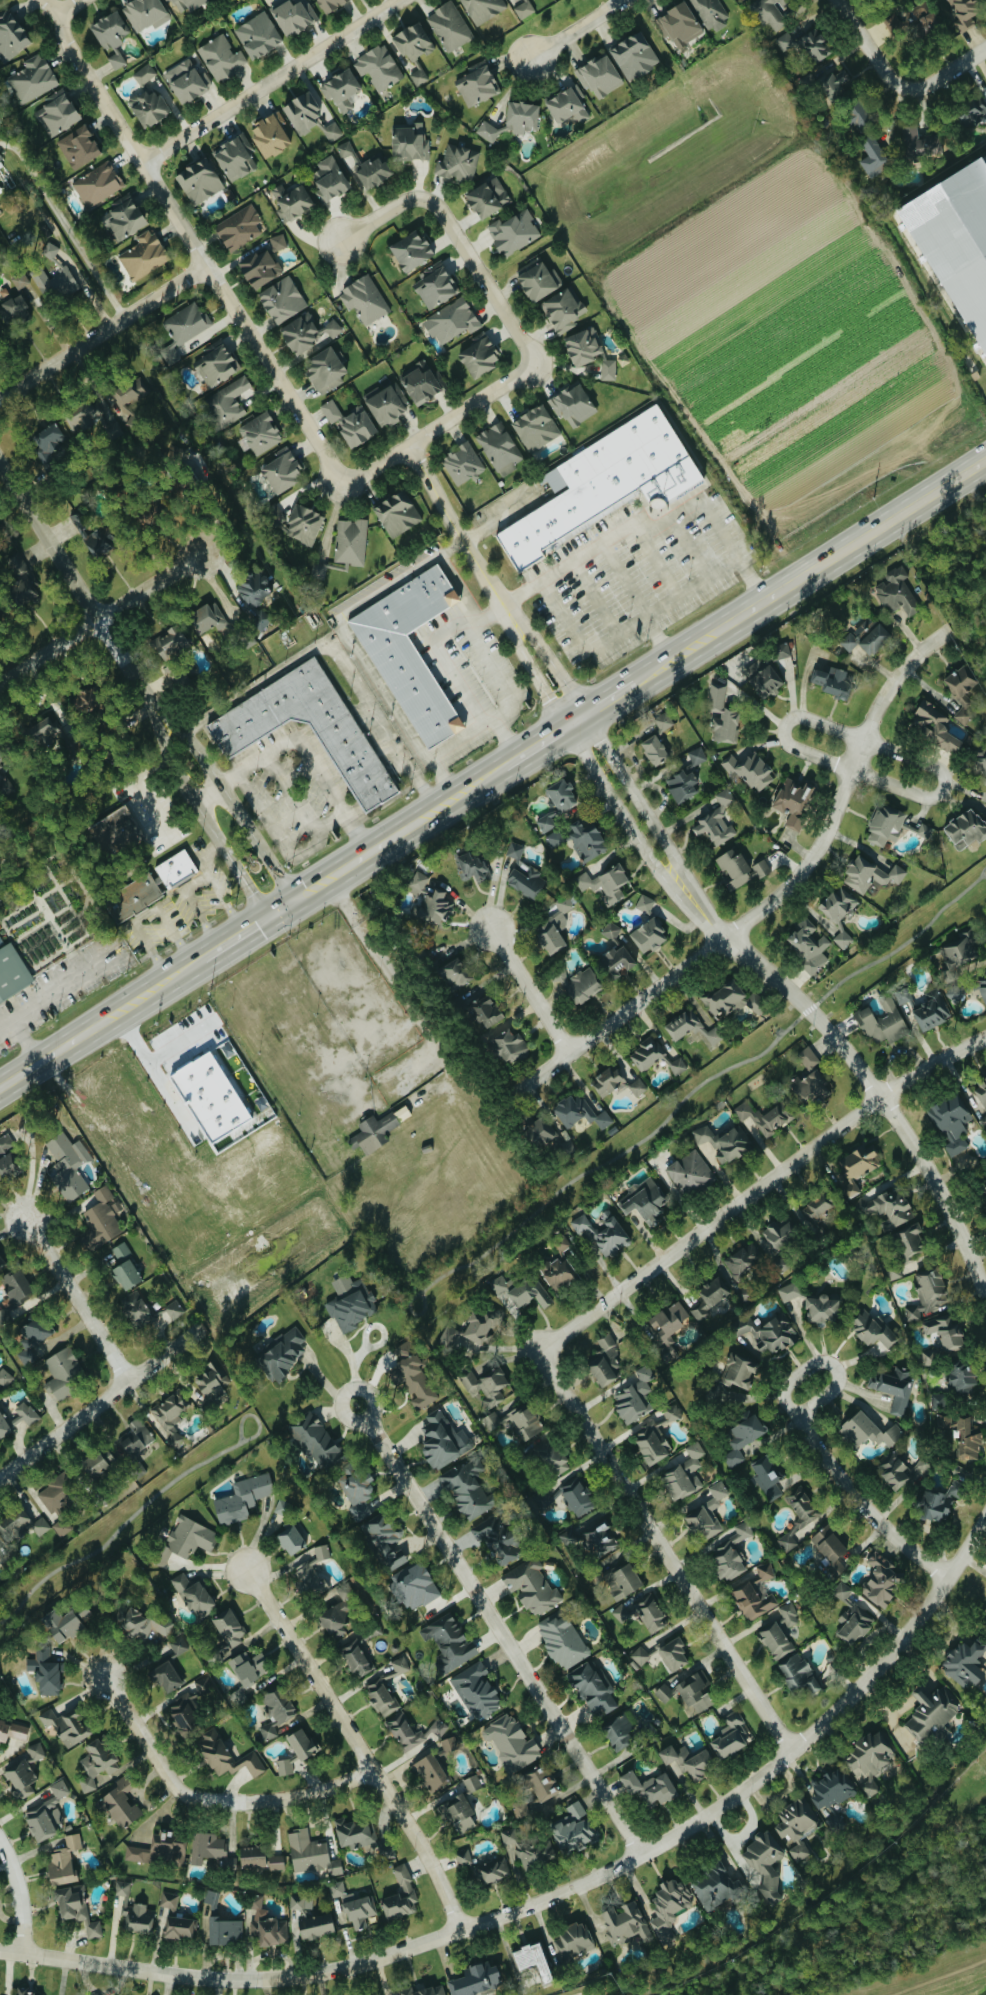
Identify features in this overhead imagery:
building: (168, 0)
building: (515, 1)
building: (1, 3)
building: (189, 4)
building: (330, 4)
road: (49, 6)
road: (68, 6)
building: (483, 9)
building: (525, 9)
building: (144, 13)
building: (712, 13)
building: (770, 13)
building: (963, 13)
building: (293, 15)
building: (892, 23)
building: (678, 24)
building: (450, 26)
building: (109, 29)
road: (575, 29)
building: (258, 35)
building: (11, 37)
building: (782, 43)
building: (814, 45)
road: (865, 46)
building: (413, 50)
building: (633, 55)
building: (222, 57)
building: (379, 67)
building: (145, 74)
building: (599, 76)
road: (945, 77)
building: (33, 78)
building: (186, 80)
road: (269, 81)
building: (831, 81)
building: (477, 85)
building: (341, 89)
building: (567, 104)
building: (148, 107)
building: (972, 111)
building: (58, 113)
building: (302, 113)
building: (856, 114)
building: (522, 116)
building: (332, 131)
building: (488, 131)
building: (270, 134)
building: (918, 141)
building: (410, 143)
building: (78, 147)
building: (346, 149)
building: (872, 156)
building: (235, 158)
building: (458, 163)
building: (373, 172)
building: (329, 178)
building: (199, 181)
building: (98, 184)
building: (487, 197)
building: (293, 203)
road: (379, 216)
building: (121, 220)
road: (65, 225)
building: (239, 228)
building: (514, 233)
building: (278, 242)
building: (955, 244)
road: (194, 247)
building: (411, 251)
building: (143, 256)
building: (259, 269)
road: (482, 277)
building: (56, 278)
building: (20, 280)
building: (538, 281)
building: (436, 285)
crop: (757, 293)
building: (365, 299)
building: (281, 300)
building: (15, 309)
building: (563, 310)
building: (452, 321)
building: (184, 329)
road: (102, 330)
building: (305, 333)
building: (582, 346)
building: (479, 356)
building: (216, 365)
building: (325, 370)
building: (608, 370)
building: (420, 384)
building: (131, 391)
building: (226, 403)
building: (574, 405)
building: (384, 407)
building: (85, 414)
building: (350, 423)
road: (437, 427)
building: (535, 428)
building: (114, 430)
building: (260, 434)
building: (47, 444)
building: (500, 448)
building: (463, 463)
building: (281, 471)
building: (601, 484)
building: (397, 513)
road: (500, 516)
building: (298, 522)
road: (454, 526)
building: (91, 534)
building: (350, 542)
road: (599, 546)
road: (689, 548)
road: (731, 552)
road: (657, 561)
road: (809, 574)
building: (19, 579)
building: (897, 592)
road: (84, 596)
road: (596, 597)
building: (254, 599)
road: (636, 602)
road: (99, 617)
building: (206, 618)
road: (625, 627)
road: (340, 628)
building: (866, 637)
building: (168, 643)
building: (780, 651)
building: (410, 653)
road: (462, 670)
road: (896, 677)
building: (763, 679)
road: (350, 681)
building: (831, 681)
building: (962, 692)
building: (717, 697)
road: (608, 699)
building: (81, 700)
road: (574, 720)
building: (664, 722)
road: (783, 726)
building: (726, 727)
building: (934, 727)
building: (43, 734)
road: (460, 739)
building: (343, 740)
road: (536, 744)
road: (603, 744)
building: (654, 750)
road: (857, 755)
road: (584, 756)
road: (193, 757)
building: (981, 762)
road: (249, 763)
building: (749, 770)
road: (229, 778)
road: (439, 780)
road: (479, 781)
road: (944, 787)
road: (205, 791)
building: (793, 801)
building: (556, 803)
road: (442, 804)
building: (717, 821)
building: (885, 824)
road: (324, 826)
road: (209, 827)
building: (964, 827)
building: (116, 831)
building: (926, 831)
building: (554, 837)
building: (585, 839)
road: (256, 842)
building: (515, 850)
road: (362, 854)
road: (204, 856)
building: (472, 865)
building: (734, 868)
building: (761, 868)
building: (175, 869)
building: (869, 874)
building: (525, 879)
building: (605, 882)
building: (132, 897)
building: (429, 899)
traffic signals: (293, 900)
road: (225, 903)
building: (645, 903)
building: (837, 903)
road: (193, 906)
traffic signals: (267, 917)
building: (554, 926)
building: (610, 930)
road: (244, 931)
building: (648, 934)
building: (843, 938)
building: (807, 944)
building: (959, 947)
road: (698, 957)
building: (616, 961)
building: (12, 972)
building: (454, 973)
building: (577, 983)
road: (401, 984)
road: (58, 987)
building: (981, 988)
road: (529, 989)
building: (955, 992)
building: (903, 995)
building: (732, 998)
building: (482, 1009)
building: (931, 1013)
building: (882, 1021)
road: (97, 1024)
building: (692, 1027)
road: (25, 1040)
building: (508, 1045)
building: (646, 1053)
road: (150, 1057)
building: (808, 1057)
building: (677, 1066)
road: (864, 1074)
building: (610, 1081)
building: (812, 1086)
building: (638, 1087)
building: (981, 1091)
building: (579, 1112)
building: (762, 1117)
building: (951, 1121)
building: (538, 1131)
building: (373, 1132)
building: (722, 1143)
building: (7, 1157)
building: (68, 1165)
building: (856, 1169)
building: (689, 1172)
building: (985, 1186)
road: (758, 1187)
building: (645, 1201)
building: (815, 1207)
building: (886, 1207)
building: (104, 1216)
building: (786, 1229)
building: (602, 1234)
building: (562, 1243)
building: (910, 1243)
building: (741, 1261)
building: (1, 1263)
building: (125, 1266)
building: (893, 1271)
building: (559, 1274)
building: (521, 1291)
building: (789, 1292)
building: (927, 1294)
building: (709, 1296)
road: (76, 1300)
building: (351, 1303)
building: (821, 1308)
building: (137, 1309)
building: (173, 1311)
road: (371, 1326)
building: (666, 1329)
building: (872, 1330)
building: (944, 1331)
building: (469, 1333)
building: (768, 1334)
building: (32, 1339)
building: (282, 1353)
building: (605, 1361)
road: (354, 1364)
building: (740, 1369)
building: (64, 1372)
building: (4, 1378)
building: (962, 1378)
building: (209, 1381)
building: (413, 1382)
building: (487, 1385)
building: (894, 1387)
building: (633, 1396)
building: (738, 1397)
building: (938, 1397)
road: (99, 1402)
building: (672, 1413)
building: (171, 1415)
road: (253, 1415)
building: (17, 1417)
building: (492, 1420)
building: (525, 1422)
building: (866, 1431)
building: (740, 1438)
road: (812, 1439)
building: (968, 1439)
building: (135, 1441)
building: (315, 1441)
building: (442, 1441)
building: (652, 1444)
building: (550, 1457)
building: (95, 1464)
building: (923, 1464)
building: (138, 1470)
building: (894, 1472)
building: (684, 1474)
building: (767, 1477)
building: (467, 1490)
building: (56, 1493)
building: (358, 1494)
building: (576, 1498)
building: (242, 1499)
building: (937, 1502)
building: (707, 1514)
building: (807, 1518)
building: (20, 1525)
road: (119, 1529)
building: (290, 1539)
building: (496, 1539)
building: (592, 1539)
building: (184, 1540)
building: (385, 1542)
building: (827, 1543)
road: (665, 1550)
building: (322, 1551)
building: (730, 1554)
building: (613, 1561)
road: (972, 1564)
building: (835, 1568)
building: (309, 1579)
building: (623, 1581)
building: (879, 1582)
building: (532, 1587)
building: (414, 1588)
building: (842, 1591)
building: (192, 1594)
building: (755, 1594)
building: (621, 1613)
building: (85, 1614)
building: (788, 1614)
building: (652, 1617)
building: (139, 1622)
building: (854, 1624)
building: (60, 1625)
building: (336, 1626)
building: (229, 1627)
road: (499, 1628)
building: (775, 1640)
building: (562, 1641)
building: (448, 1643)
building: (179, 1646)
building: (673, 1655)
building: (640, 1656)
building: (359, 1659)
building: (965, 1661)
building: (249, 1667)
building: (45, 1670)
building: (799, 1674)
building: (166, 1677)
building: (592, 1688)
building: (386, 1689)
building: (476, 1689)
building: (684, 1690)
building: (704, 1701)
building: (276, 1711)
building: (931, 1711)
building: (184, 1713)
building: (65, 1726)
building: (437, 1728)
building: (13, 1731)
building: (404, 1731)
building: (619, 1732)
building: (730, 1736)
building: (511, 1743)
building: (303, 1744)
building: (450, 1744)
road: (357, 1746)
building: (226, 1756)
building: (869, 1759)
building: (686, 1760)
building: (97, 1763)
building: (286, 1766)
building: (25, 1772)
building: (430, 1773)
building: (472, 1783)
building: (540, 1784)
building: (649, 1787)
building: (59, 1788)
building: (830, 1789)
road: (208, 1799)
building: (122, 1804)
building: (521, 1806)
building: (457, 1813)
building: (795, 1819)
building: (43, 1820)
building: (573, 1830)
building: (354, 1833)
building: (206, 1847)
building: (527, 1848)
building: (159, 1851)
building: (798, 1851)
building: (311, 1854)
building: (259, 1858)
building: (63, 1862)
building: (764, 1865)
building: (484, 1866)
building: (715, 1886)
building: (122, 1888)
road: (560, 1891)
road: (20, 1895)
building: (400, 1896)
building: (169, 1900)
building: (668, 1906)
building: (76, 1908)
building: (137, 1917)
building: (310, 1919)
building: (625, 1923)
building: (267, 1924)
building: (179, 1928)
building: (224, 1931)
building: (531, 1960)
road: (938, 1976)
building: (475, 1979)
building: (24, 1991)
building: (423, 1991)

